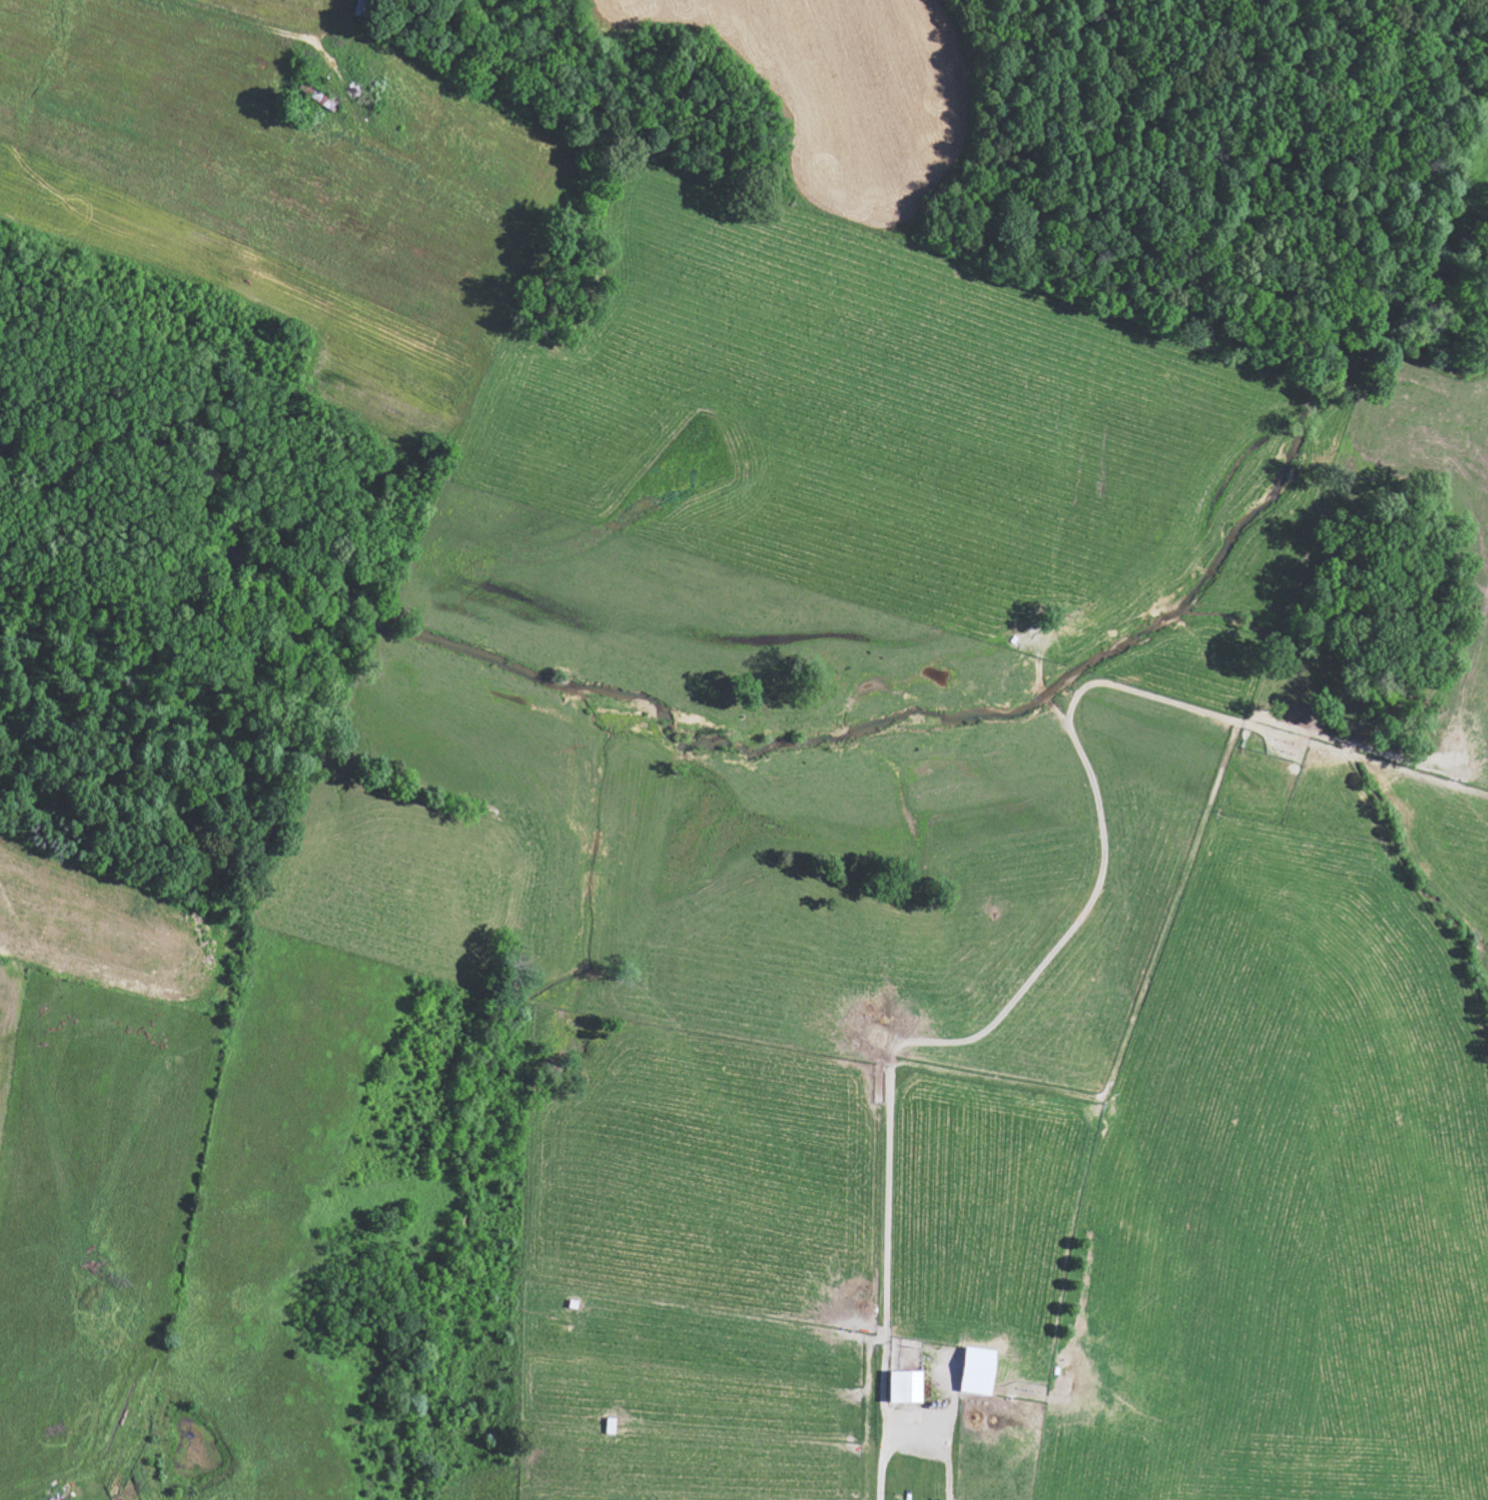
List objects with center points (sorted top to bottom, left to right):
building: (981, 1369)
building: (909, 1385)

